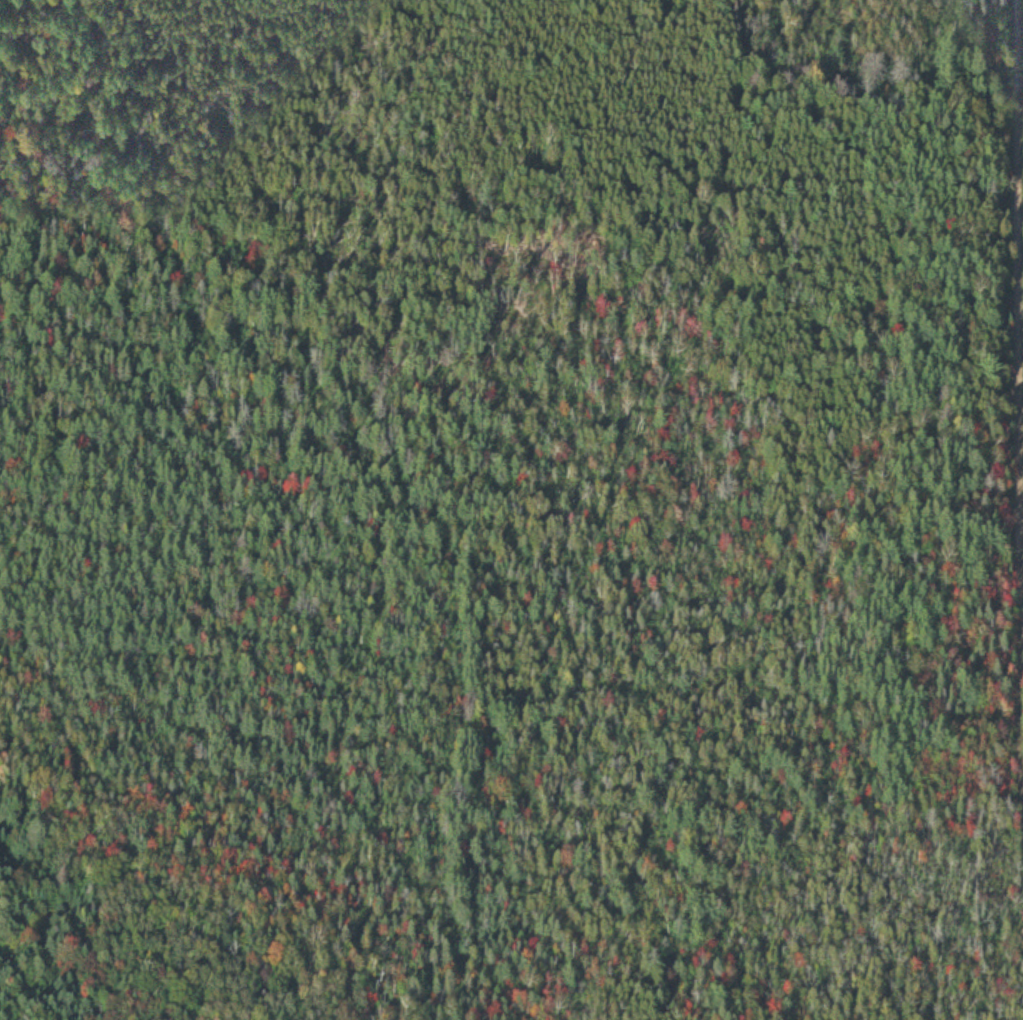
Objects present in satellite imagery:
road: (1022, 76)

